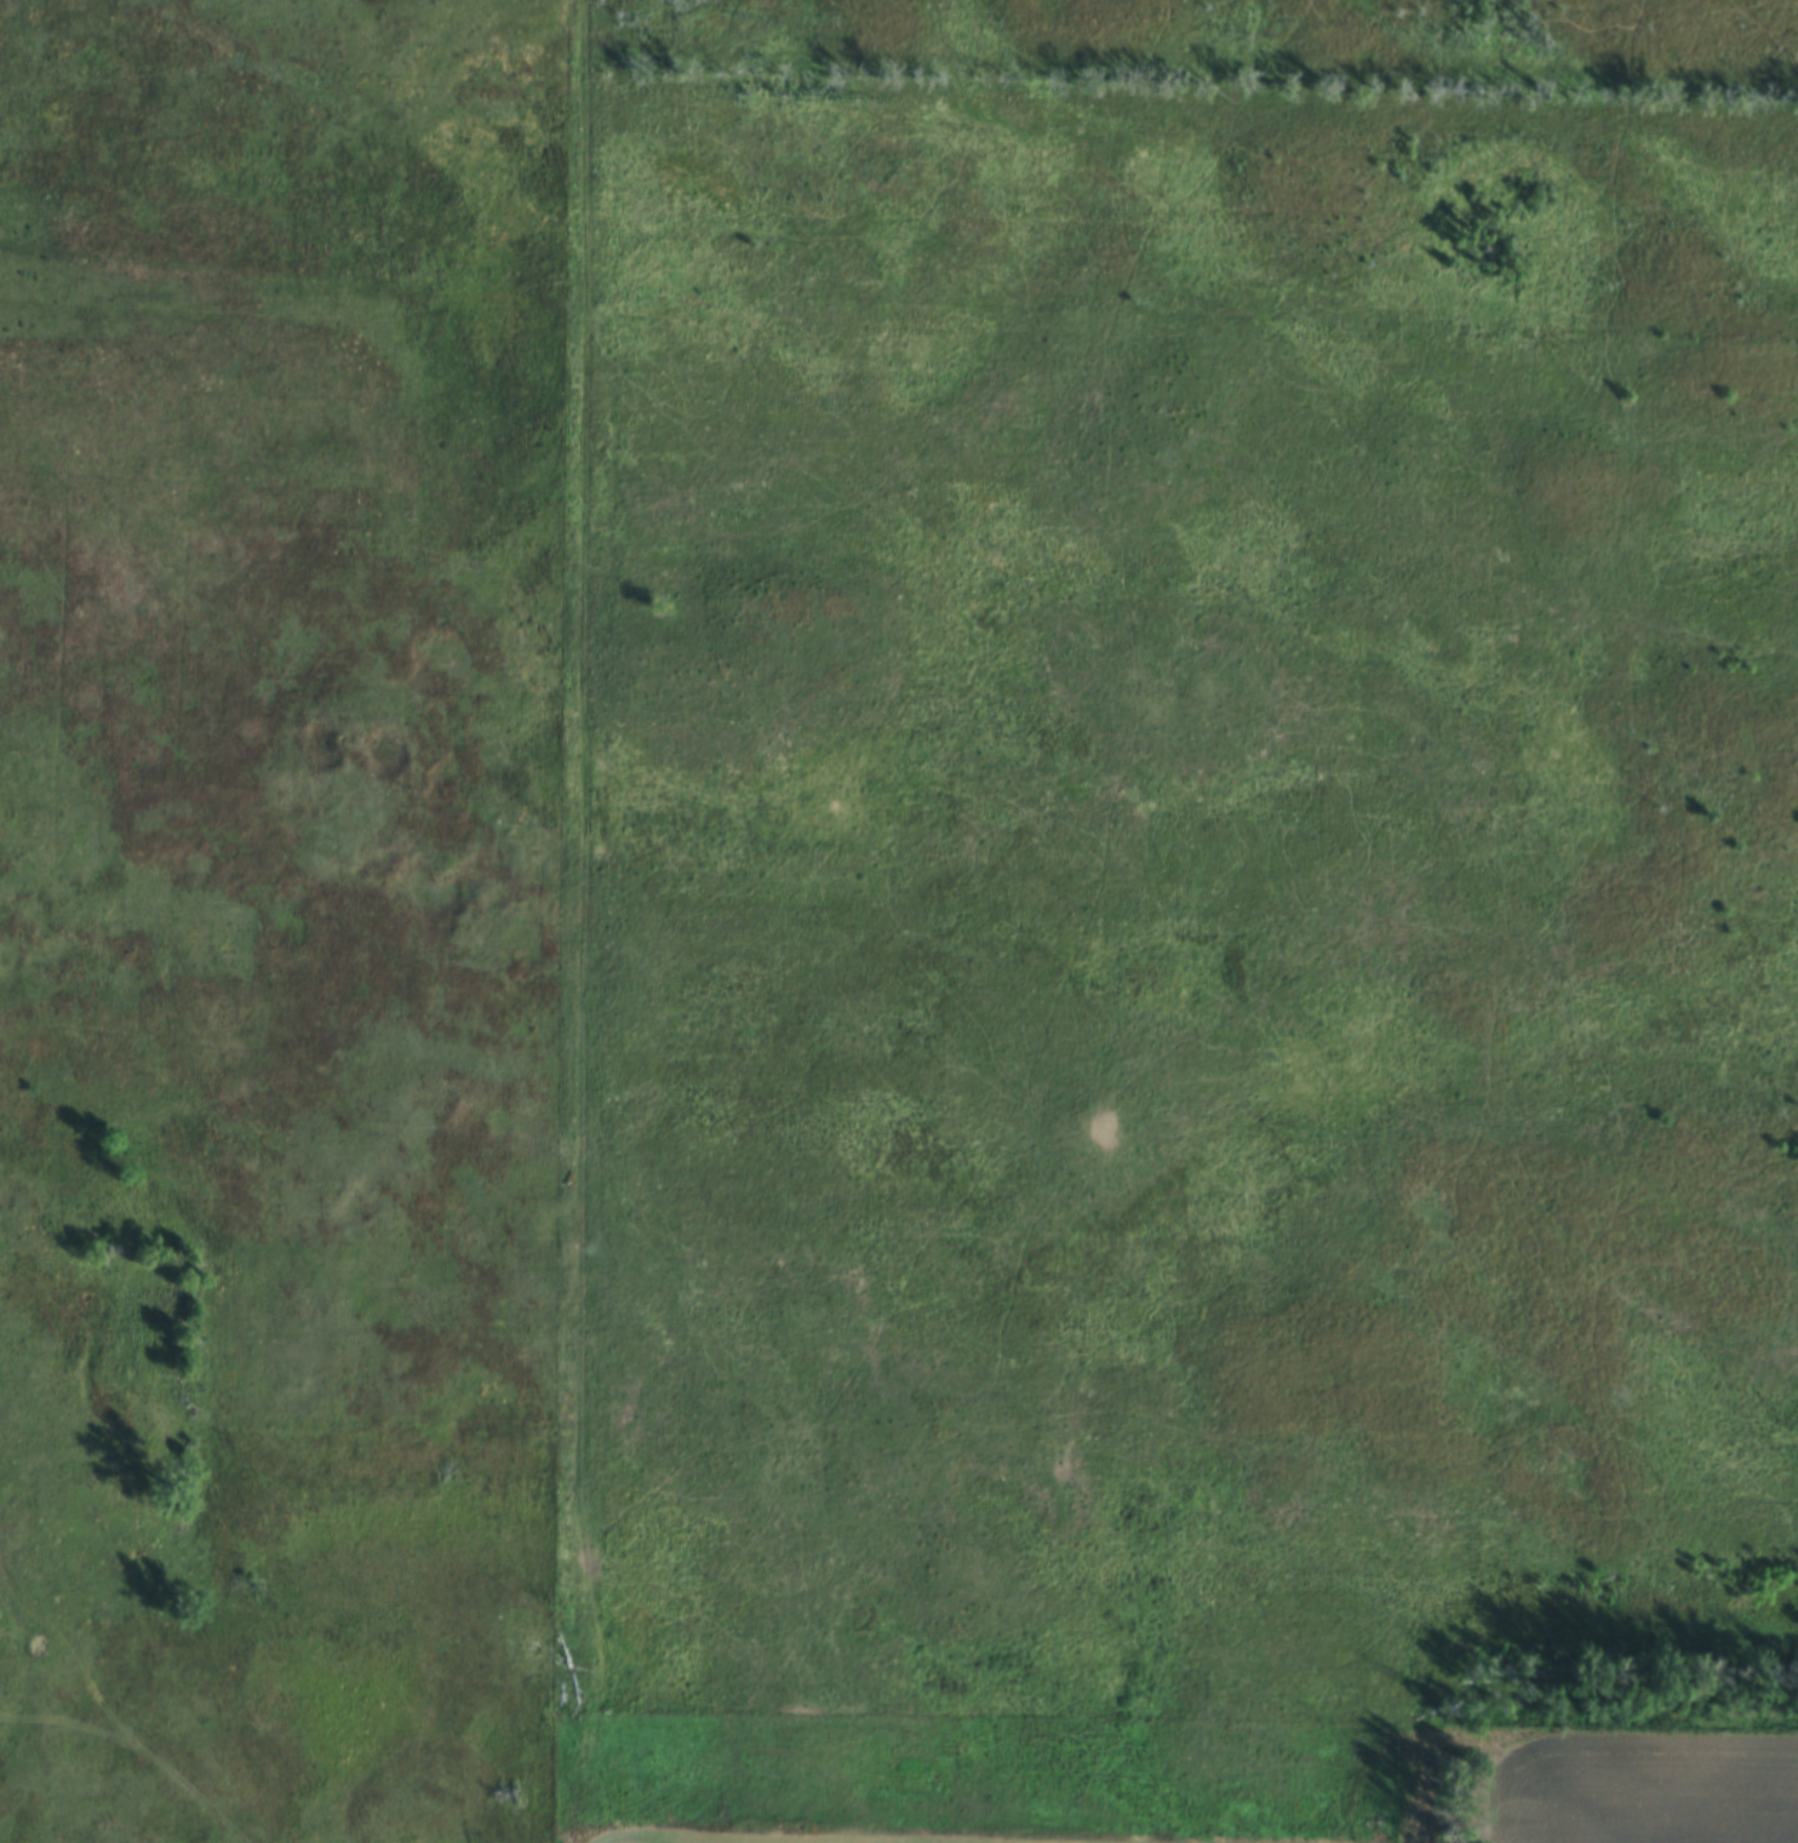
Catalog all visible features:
road: (134, 1753)

